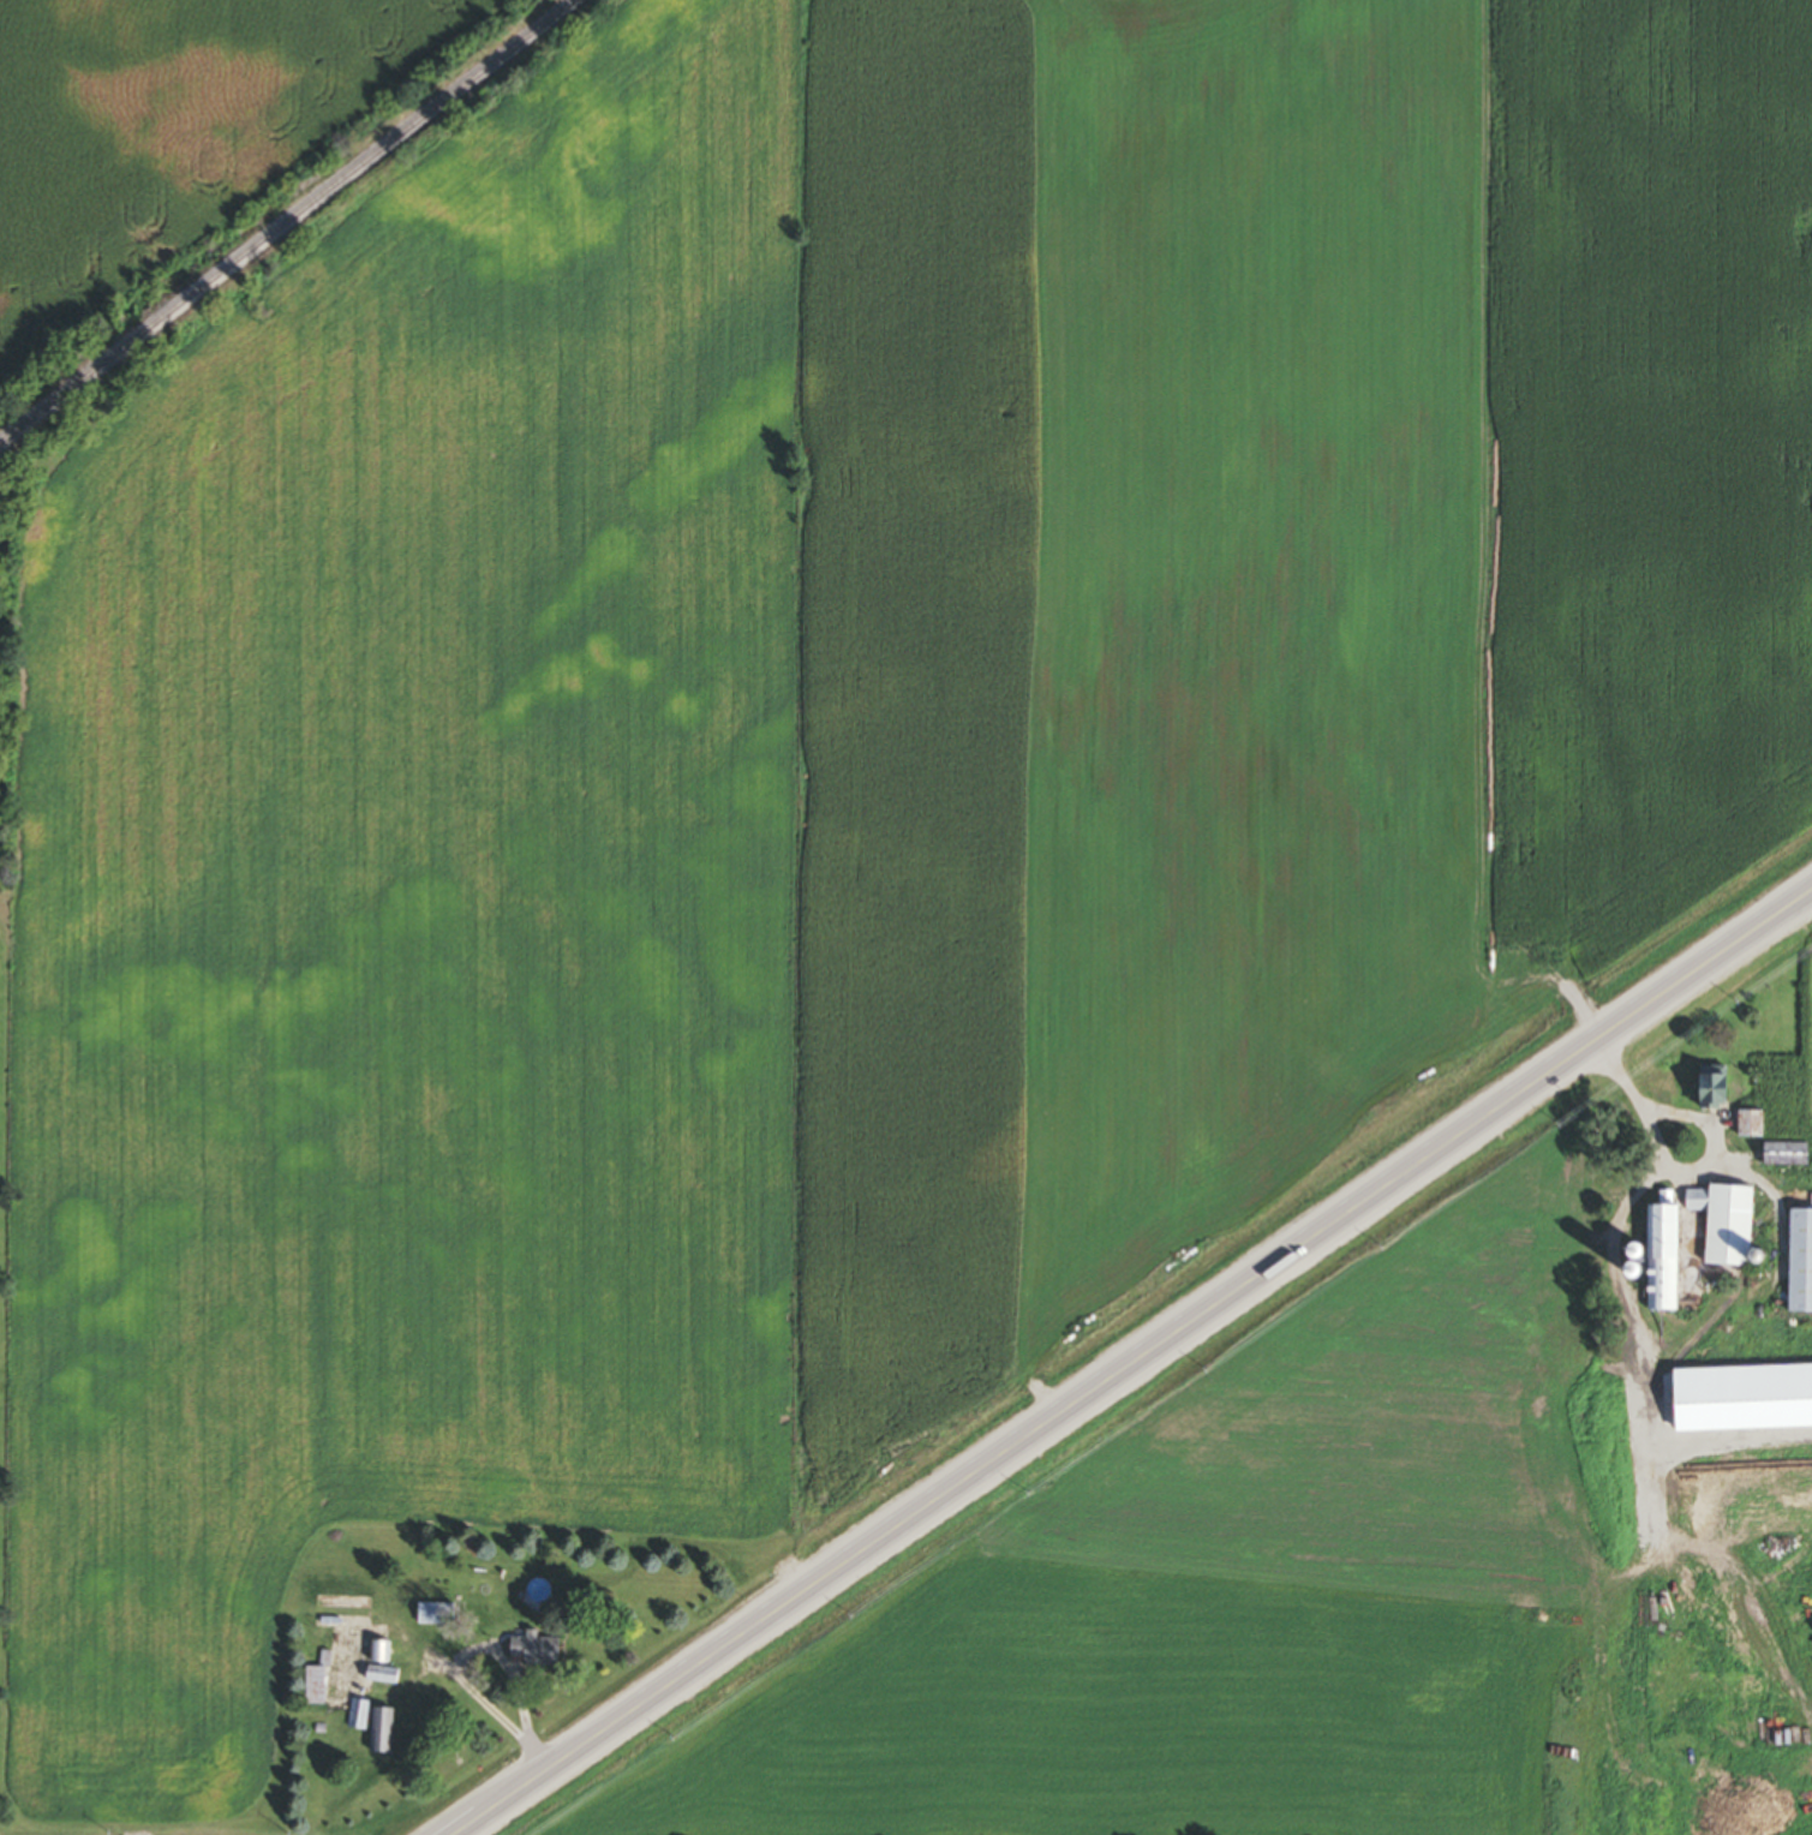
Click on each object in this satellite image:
crop: (177, 136)
railway: (289, 223)
building: (1705, 1092)
building: (1748, 1125)
building: (1782, 1155)
road: (1627, 1205)
building: (1726, 1226)
building: (1657, 1259)
building: (1799, 1265)
road: (1132, 1361)
building: (1739, 1399)
building: (533, 1652)
building: (379, 1654)
building: (313, 1687)
building: (367, 1720)

